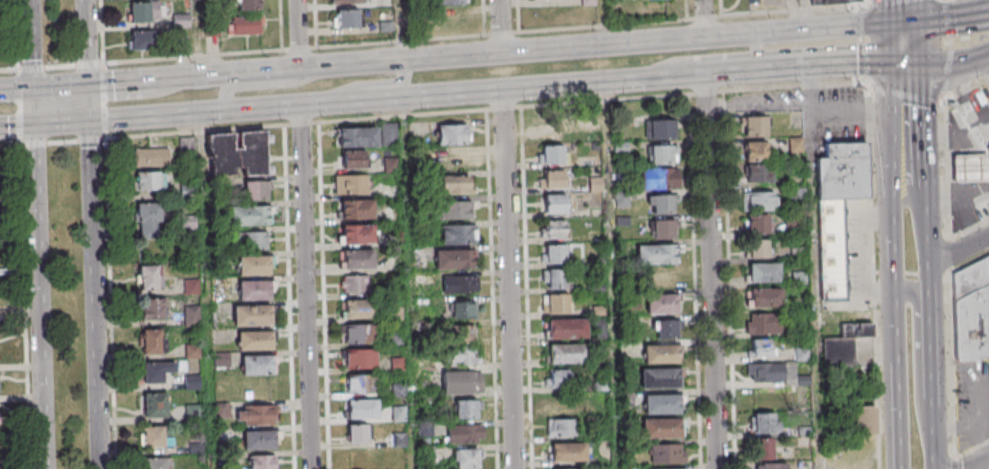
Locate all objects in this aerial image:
building: (347, 1)
building: (835, 1)
building: (449, 2)
road: (864, 2)
road: (883, 2)
building: (248, 5)
road: (721, 8)
road: (687, 10)
building: (144, 11)
road: (793, 11)
road: (903, 11)
road: (985, 12)
road: (806, 15)
road: (518, 16)
road: (484, 17)
road: (942, 17)
building: (345, 18)
road: (704, 18)
building: (181, 21)
road: (604, 22)
traffic signals: (904, 22)
road: (884, 23)
road: (316, 24)
road: (282, 25)
building: (244, 26)
road: (501, 26)
road: (403, 29)
road: (785, 31)
road: (102, 32)
road: (298, 34)
road: (17, 35)
building: (142, 40)
road: (413, 41)
road: (88, 42)
road: (904, 43)
road: (865, 45)
road: (951, 49)
road: (513, 52)
road: (709, 58)
traffic signals: (905, 65)
road: (947, 66)
road: (61, 67)
road: (310, 67)
road: (822, 67)
road: (9, 71)
road: (227, 73)
road: (706, 74)
road: (122, 81)
road: (372, 82)
road: (987, 83)
traffic signals: (90, 84)
road: (61, 86)
road: (267, 86)
road: (16, 88)
traffic signals: (33, 88)
road: (966, 89)
road: (500, 90)
road: (694, 94)
road: (905, 96)
road: (90, 103)
road: (905, 103)
road: (314, 104)
road: (264, 108)
road: (158, 116)
traffic signals: (91, 122)
road: (314, 123)
road: (63, 124)
road: (17, 126)
traffic signals: (35, 126)
building: (556, 126)
building: (756, 127)
building: (658, 128)
building: (452, 135)
building: (357, 136)
road: (63, 142)
road: (10, 146)
building: (987, 148)
road: (905, 149)
building: (756, 152)
building: (236, 154)
building: (552, 154)
building: (661, 154)
building: (151, 156)
building: (352, 159)
building: (453, 160)
road: (946, 167)
building: (971, 168)
building: (843, 173)
building: (757, 174)
building: (148, 180)
building: (554, 180)
building: (660, 180)
building: (351, 185)
building: (456, 185)
building: (254, 190)
building: (796, 194)
building: (758, 201)
building: (555, 204)
building: (663, 205)
building: (357, 209)
building: (455, 211)
building: (248, 216)
building: (147, 219)
building: (188, 223)
building: (759, 224)
road: (928, 224)
road: (968, 228)
building: (555, 229)
building: (664, 230)
road: (38, 234)
building: (357, 234)
building: (459, 235)
building: (253, 241)
building: (758, 249)
building: (832, 250)
road: (960, 250)
building: (556, 254)
road: (948, 254)
building: (656, 255)
building: (358, 260)
building: (454, 260)
road: (969, 262)
building: (254, 266)
road: (814, 268)
road: (713, 271)
building: (762, 273)
road: (912, 273)
road: (612, 275)
building: (150, 277)
road: (874, 277)
road: (509, 279)
building: (556, 279)
building: (971, 279)
road: (730, 281)
road: (696, 282)
road: (409, 283)
building: (356, 285)
building: (460, 285)
road: (306, 286)
building: (192, 288)
road: (527, 288)
road: (207, 290)
building: (255, 290)
road: (492, 290)
road: (94, 295)
road: (324, 296)
road: (289, 297)
building: (765, 298)
road: (111, 304)
building: (558, 304)
building: (661, 304)
road: (26, 307)
building: (151, 309)
building: (461, 309)
building: (360, 310)
road: (893, 312)
building: (192, 314)
building: (396, 315)
building: (252, 317)
building: (764, 323)
building: (972, 326)
building: (664, 328)
building: (567, 329)
building: (465, 333)
building: (361, 335)
building: (396, 340)
building: (254, 341)
building: (153, 343)
building: (843, 344)
building: (760, 347)
road: (934, 348)
building: (193, 352)
building: (567, 354)
building: (661, 355)
building: (460, 356)
building: (222, 360)
building: (361, 360)
road: (952, 363)
building: (256, 366)
road: (919, 366)
building: (156, 372)
building: (766, 374)
building: (559, 378)
building: (660, 379)
building: (460, 382)
building: (193, 384)
building: (359, 384)
building: (399, 391)
building: (565, 403)
building: (155, 405)
building: (662, 405)
building: (362, 410)
building: (466, 410)
building: (399, 414)
building: (257, 415)
building: (863, 420)
building: (763, 422)
building: (426, 428)
building: (563, 429)
building: (660, 429)
building: (465, 434)
road: (937, 434)
building: (358, 435)
building: (153, 438)
building: (259, 439)
building: (399, 441)
building: (762, 449)
road: (971, 449)
building: (568, 453)
building: (668, 455)
building: (467, 460)
road: (954, 461)
building: (261, 462)
road: (976, 462)
building: (154, 464)
building: (772, 466)
building: (566, 468)
building: (664, 468)

